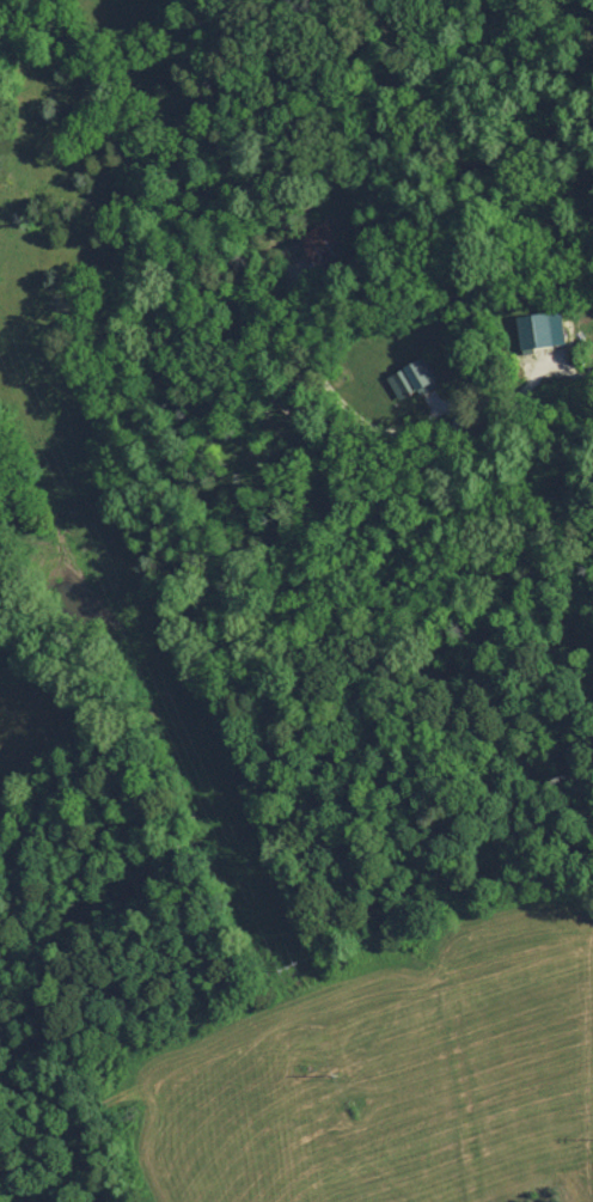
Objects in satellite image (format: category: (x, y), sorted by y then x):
building: (320, 244)
building: (408, 377)

